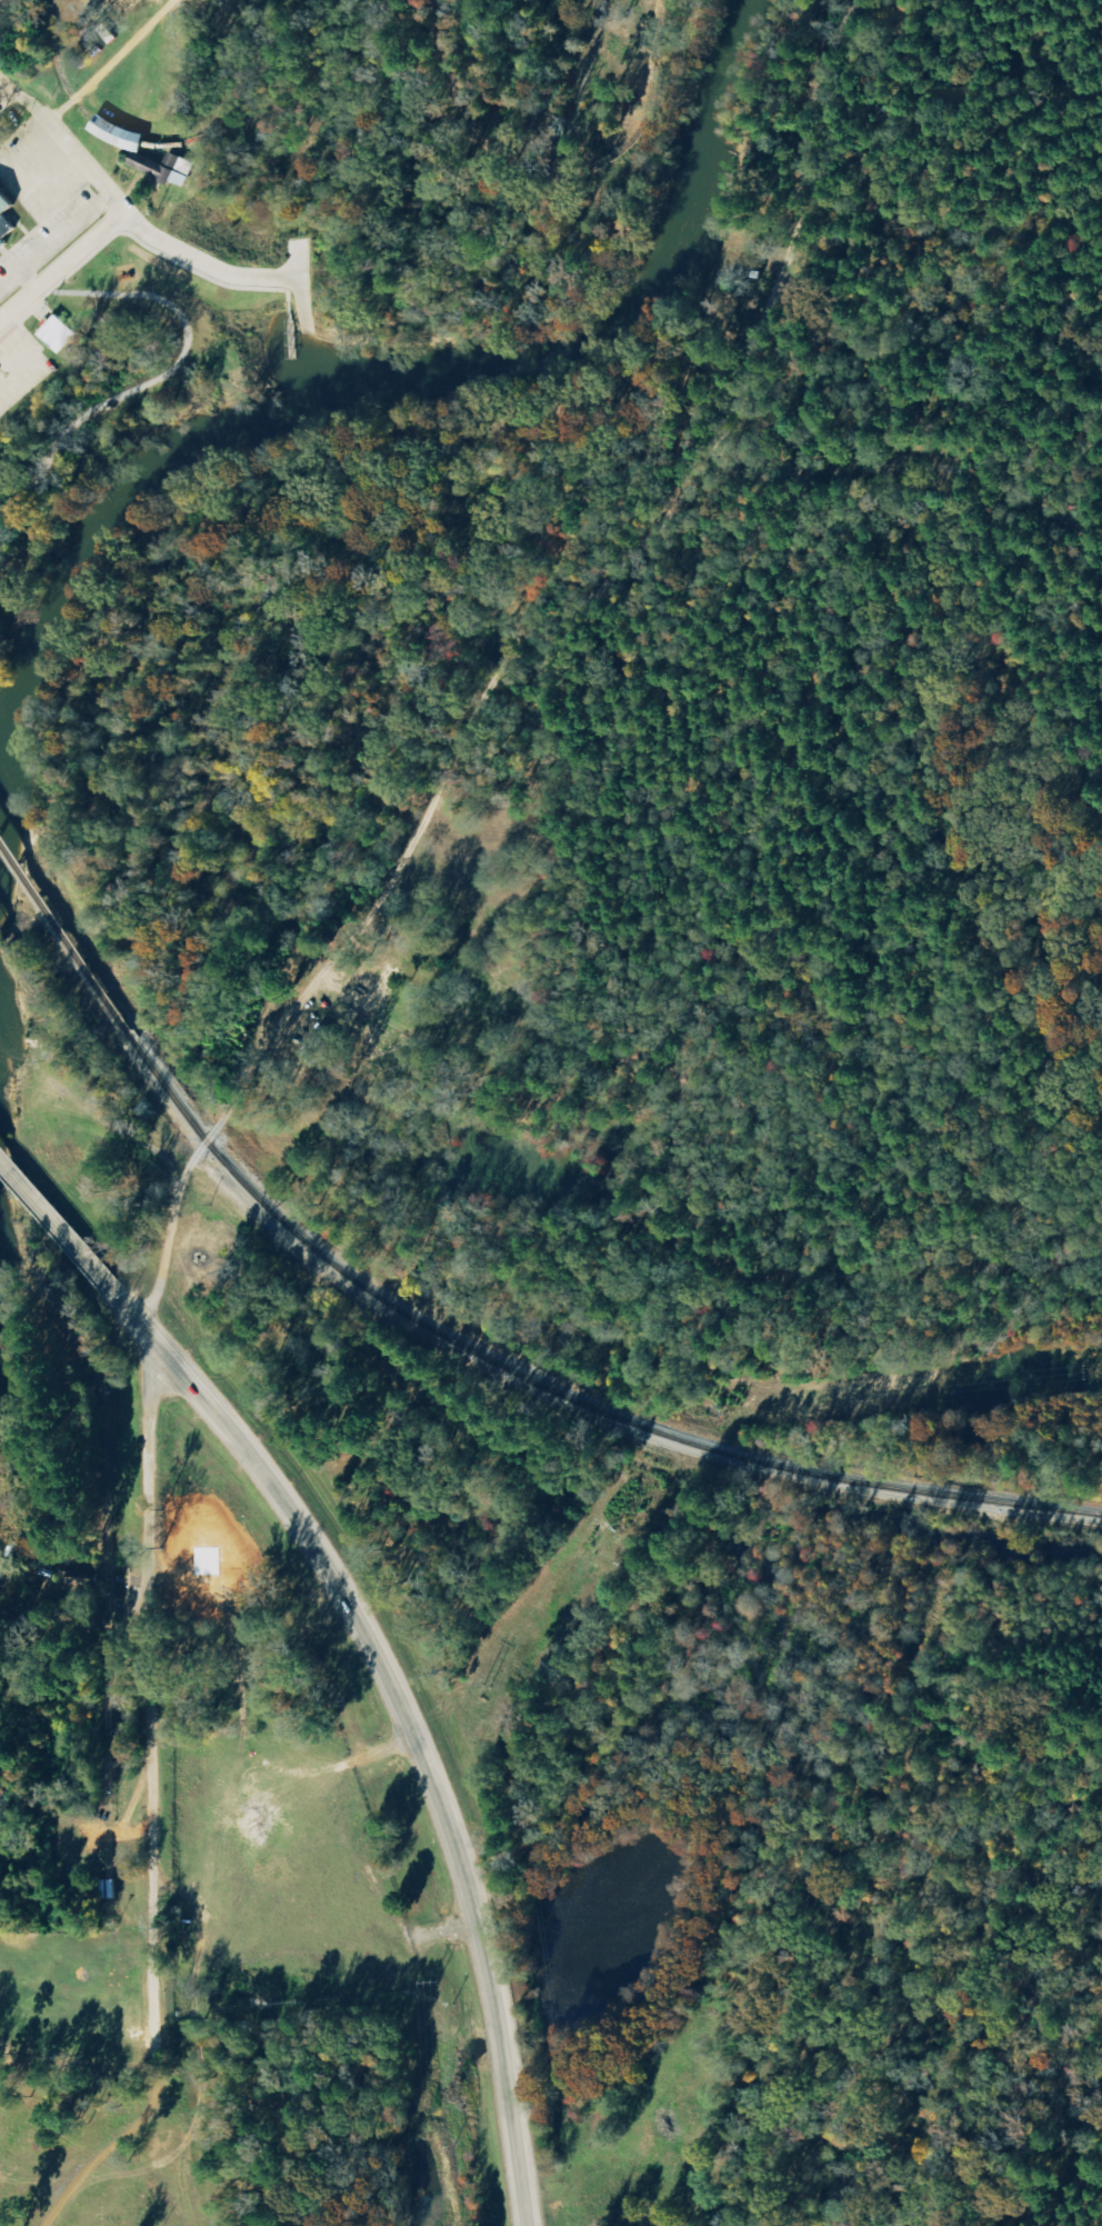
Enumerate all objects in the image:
railway: (384, 104)
railway: (220, 132)
road: (64, 142)
building: (152, 168)
parking lot: (39, 173)
railway: (550, 177)
road: (42, 197)
road: (47, 218)
building: (3, 219)
road: (18, 222)
parking lot: (49, 238)
road: (54, 243)
road: (3, 251)
road: (298, 260)
road: (61, 267)
road: (219, 271)
road: (28, 281)
building: (59, 335)
road: (156, 381)
river: (397, 390)
park: (113, 403)
railway: (63, 938)
railway: (1, 941)
railway: (28, 979)
road: (197, 1156)
road: (53, 1224)
power tower: (1093, 1370)
railway: (553, 1391)
road: (203, 1398)
power tower: (723, 1399)
power tower: (620, 1527)
building: (78, 1573)
power tower: (484, 1687)
road: (150, 1713)
road: (335, 1760)
road: (459, 1855)
power tower: (438, 1979)

